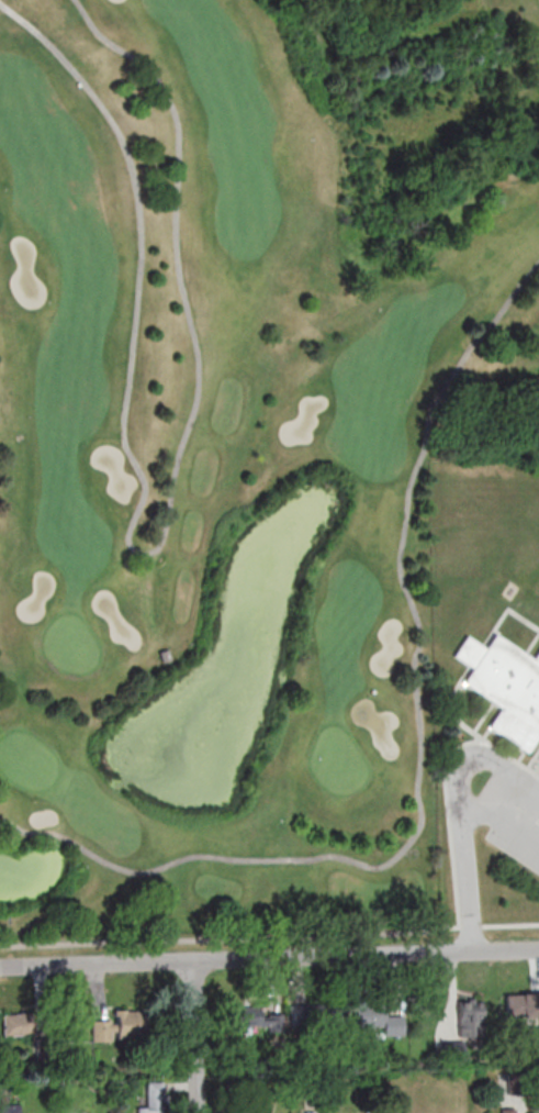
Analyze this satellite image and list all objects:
park: (245, 442)
road: (142, 554)
building: (164, 655)
building: (505, 688)
road: (420, 752)
road: (468, 755)
road: (464, 843)
road: (472, 925)
road: (203, 938)
road: (269, 956)
building: (521, 1005)
building: (317, 1016)
building: (469, 1017)
building: (259, 1019)
building: (381, 1021)
building: (20, 1024)
building: (120, 1026)
road: (195, 1036)
building: (453, 1051)
building: (154, 1099)
building: (11, 1108)
building: (506, 1110)
building: (306, 1112)

